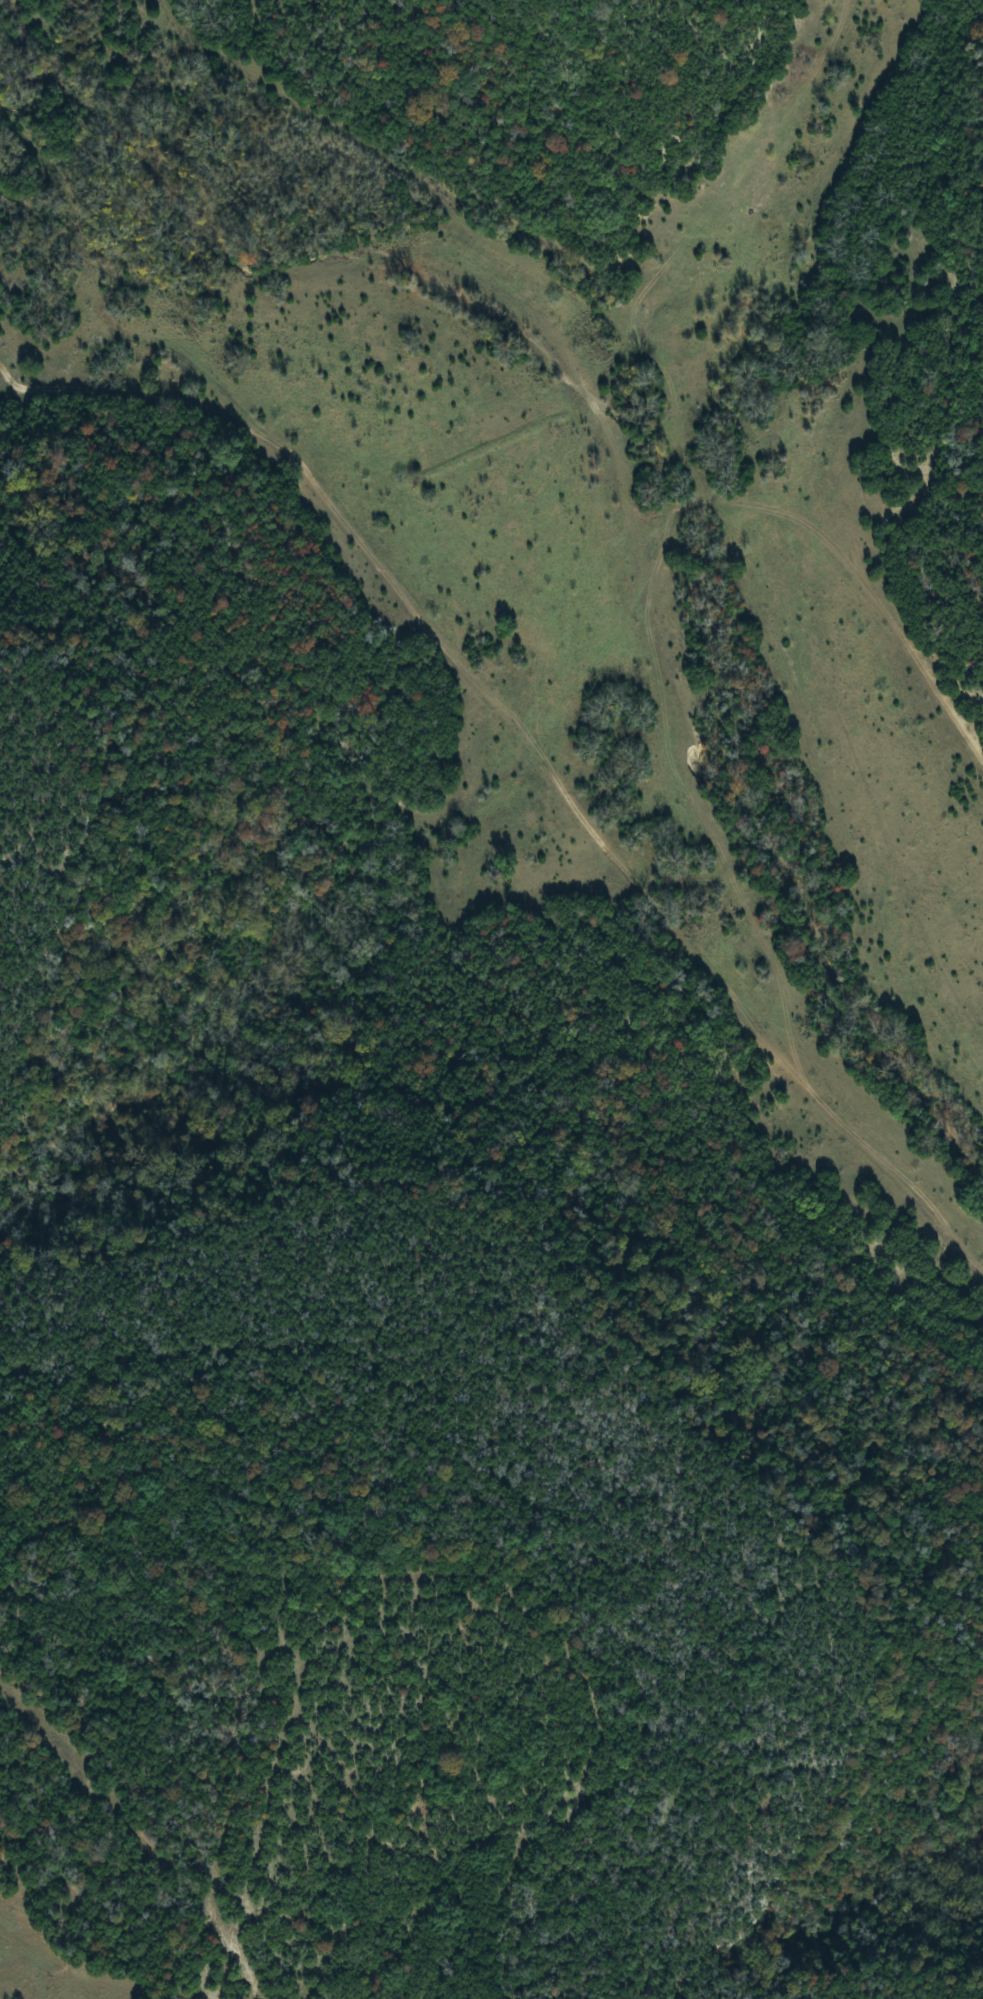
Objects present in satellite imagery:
road: (462, 759)

